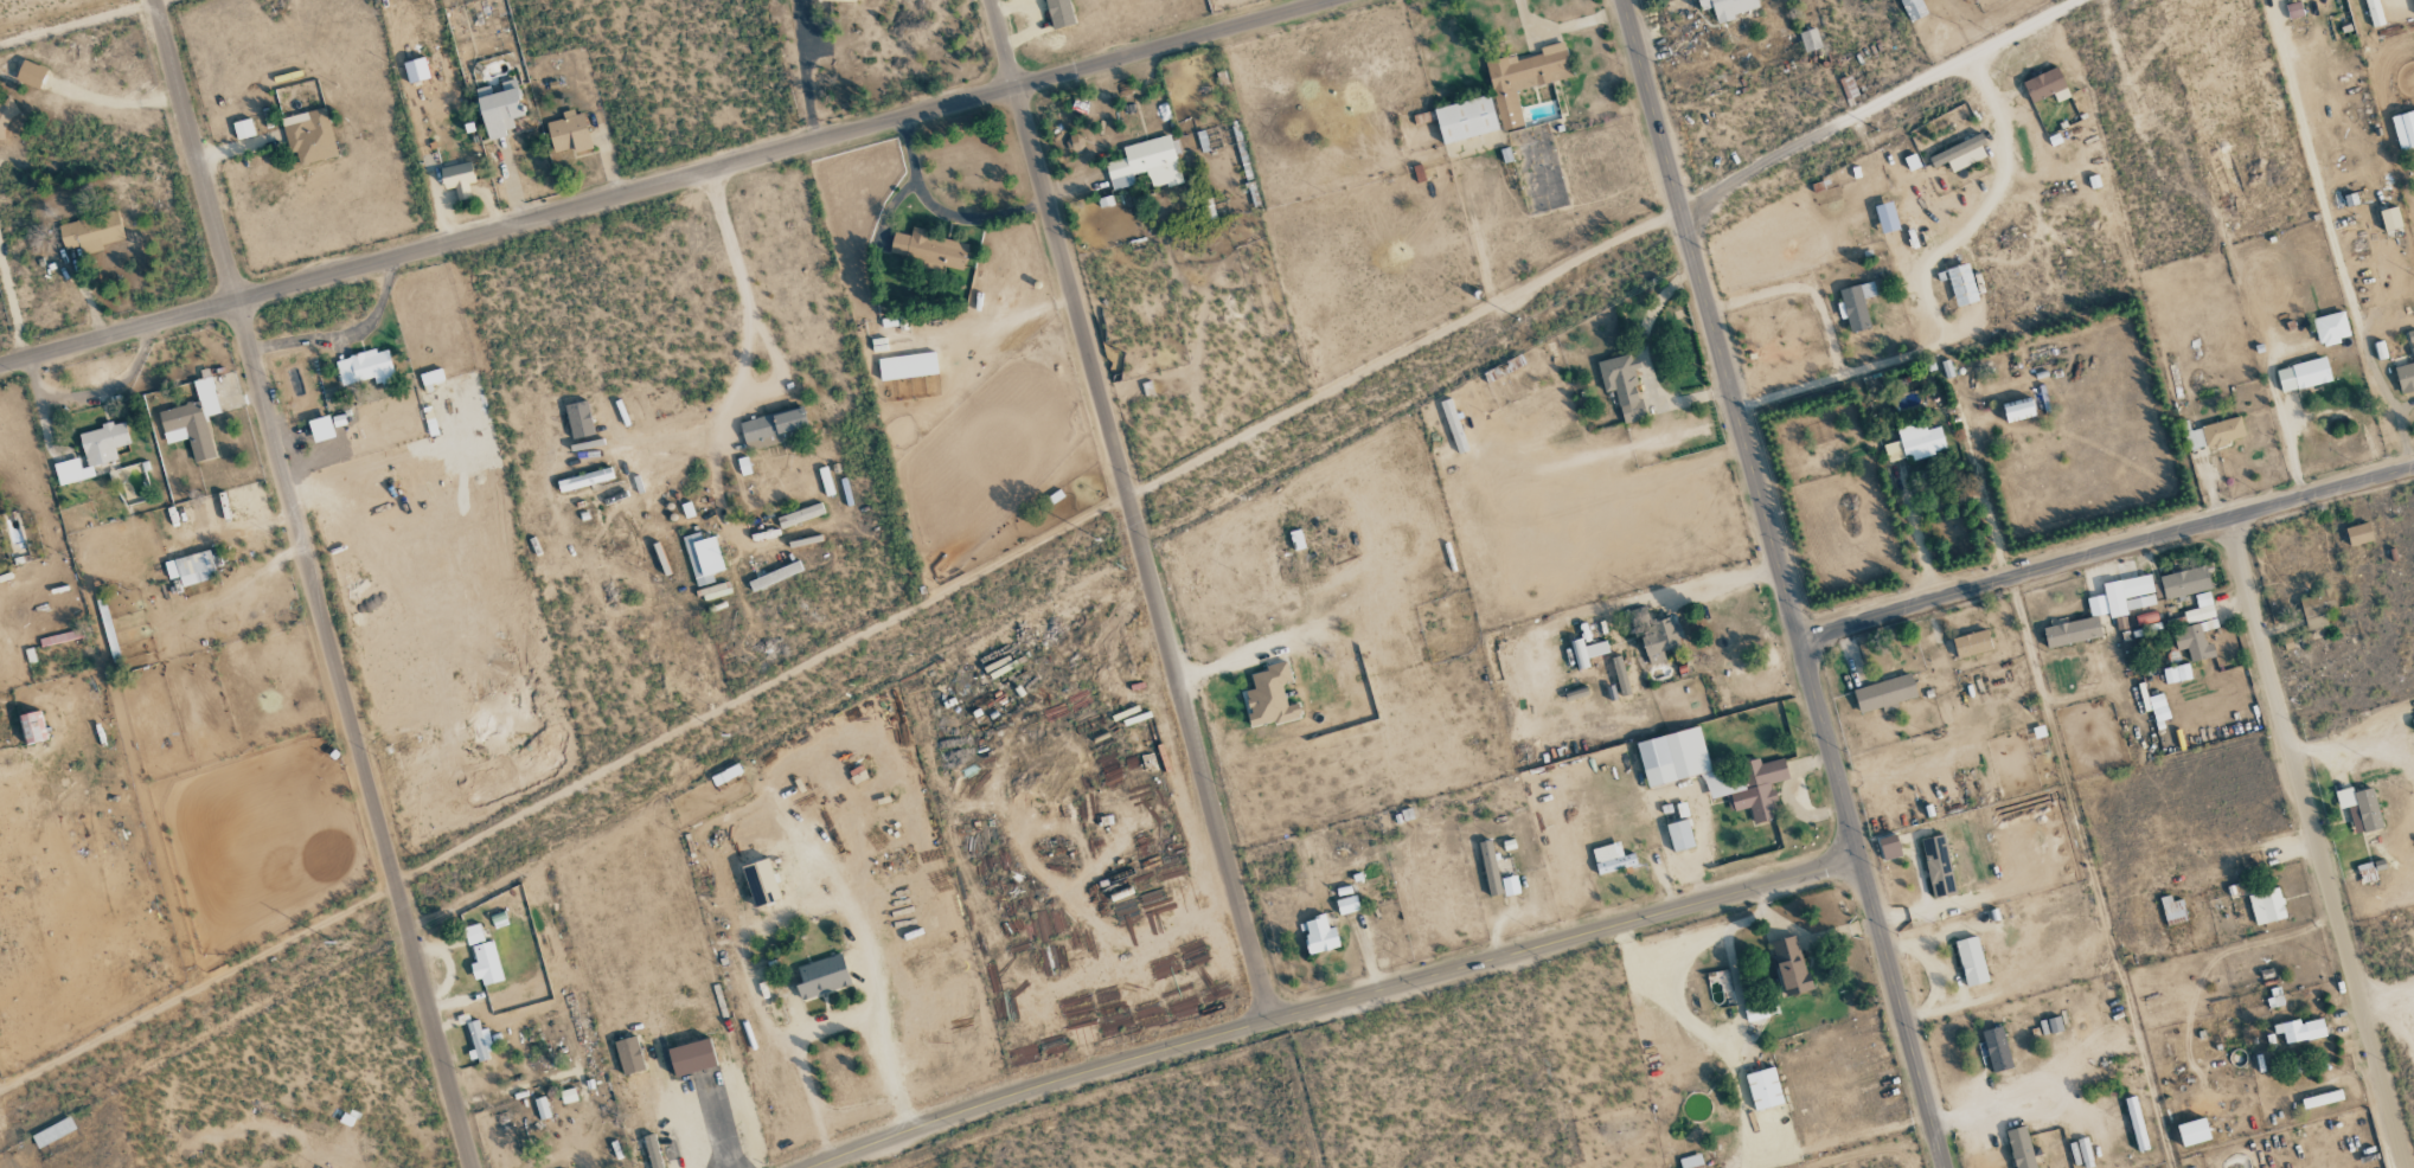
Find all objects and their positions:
building: (838, 0)
building: (1728, 7)
building: (1913, 8)
building: (1058, 13)
building: (2374, 13)
building: (1808, 40)
building: (415, 69)
building: (30, 75)
building: (1524, 79)
building: (2045, 86)
road: (1877, 103)
building: (499, 108)
building: (1465, 118)
building: (243, 128)
building: (2403, 129)
building: (569, 133)
building: (309, 135)
building: (1074, 142)
road: (2035, 145)
building: (1959, 154)
building: (1146, 163)
building: (457, 178)
road: (664, 185)
building: (1885, 217)
building: (90, 231)
road: (1948, 245)
building: (929, 249)
building: (1961, 284)
road: (1803, 289)
building: (1855, 306)
building: (2330, 328)
road: (745, 332)
road: (1402, 351)
building: (907, 365)
building: (366, 367)
building: (2406, 368)
building: (2303, 374)
building: (430, 377)
building: (1621, 385)
road: (1788, 392)
building: (206, 396)
building: (2018, 412)
building: (578, 419)
building: (1453, 425)
building: (773, 426)
building: (186, 428)
building: (320, 428)
building: (2213, 435)
building: (1916, 443)
building: (92, 451)
building: (584, 479)
road: (1131, 509)
building: (800, 515)
building: (2358, 533)
road: (2106, 552)
building: (703, 557)
building: (191, 567)
building: (774, 576)
building: (2184, 582)
road: (1781, 583)
road: (313, 584)
building: (715, 591)
building: (2122, 596)
road: (1628, 599)
building: (2314, 607)
building: (2200, 609)
building: (2072, 631)
building: (1660, 638)
building: (1971, 643)
building: (1586, 652)
building: (2176, 673)
building: (1621, 679)
road: (760, 688)
building: (1884, 693)
building: (1269, 697)
building: (2158, 707)
building: (32, 726)
building: (1750, 775)
building: (2359, 808)
building: (1679, 835)
road: (2317, 842)
building: (1888, 848)
building: (1612, 858)
building: (1936, 866)
building: (1491, 867)
building: (1510, 885)
building: (1346, 905)
building: (2266, 906)
building: (2171, 907)
building: (473, 933)
building: (1319, 935)
building: (1971, 961)
building: (486, 963)
building: (1789, 965)
building: (821, 976)
road: (1331, 1002)
building: (1761, 1010)
road: (822, 1023)
building: (2300, 1029)
building: (479, 1040)
building: (1996, 1050)
building: (628, 1055)
building: (691, 1057)
building: (1763, 1089)
building: (542, 1108)
road: (1987, 1109)
building: (2136, 1123)
building: (53, 1131)
building: (2192, 1131)
building: (2021, 1148)
building: (653, 1151)
building: (2085, 1153)
building: (1691, 1161)

